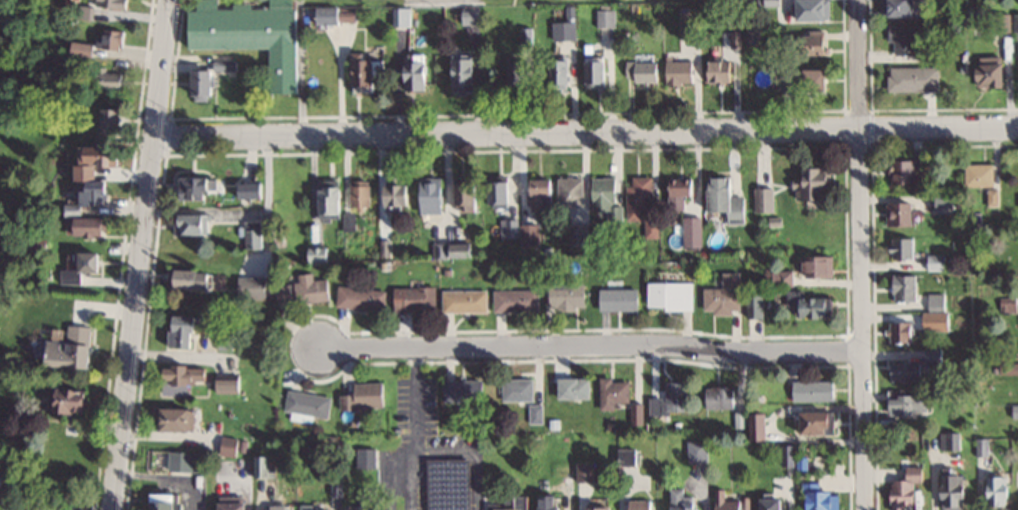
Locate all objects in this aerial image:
building: (1017, 2)
building: (118, 3)
building: (899, 8)
building: (809, 9)
building: (474, 15)
building: (998, 22)
building: (1014, 22)
building: (255, 35)
park: (304, 37)
building: (903, 38)
building: (105, 41)
building: (809, 42)
building: (928, 54)
building: (679, 69)
building: (715, 70)
building: (419, 71)
building: (639, 71)
building: (467, 72)
building: (559, 72)
building: (983, 72)
building: (367, 73)
building: (596, 74)
building: (518, 75)
building: (210, 78)
building: (787, 78)
building: (911, 78)
building: (111, 81)
building: (112, 125)
road: (584, 132)
building: (98, 161)
building: (900, 172)
building: (977, 174)
building: (806, 183)
building: (676, 186)
building: (198, 188)
building: (253, 189)
building: (362, 193)
building: (98, 194)
building: (432, 194)
building: (502, 194)
building: (557, 195)
building: (398, 196)
building: (468, 196)
building: (603, 198)
building: (637, 198)
building: (722, 199)
building: (761, 199)
building: (335, 201)
building: (895, 214)
building: (196, 223)
building: (95, 225)
building: (508, 228)
building: (690, 233)
building: (252, 246)
building: (899, 248)
building: (457, 250)
road: (139, 254)
building: (318, 254)
road: (860, 254)
building: (82, 264)
building: (813, 266)
building: (193, 278)
building: (780, 278)
building: (251, 287)
building: (902, 287)
building: (306, 289)
building: (569, 291)
building: (667, 295)
building: (721, 295)
building: (363, 298)
building: (618, 298)
building: (418, 299)
building: (467, 300)
building: (518, 300)
building: (804, 304)
building: (752, 306)
building: (933, 313)
building: (185, 330)
building: (898, 332)
road: (590, 345)
building: (74, 348)
building: (910, 366)
building: (184, 378)
building: (230, 383)
building: (518, 388)
building: (575, 388)
building: (466, 390)
building: (810, 391)
building: (615, 392)
building: (366, 396)
building: (723, 397)
building: (676, 398)
building: (71, 400)
building: (307, 404)
building: (903, 404)
building: (181, 419)
building: (807, 423)
building: (745, 424)
building: (947, 440)
building: (231, 446)
building: (696, 451)
building: (786, 456)
building: (367, 457)
building: (181, 460)
building: (266, 466)
building: (586, 472)
building: (451, 484)
building: (901, 487)
building: (947, 492)
building: (992, 492)
building: (812, 497)
building: (169, 499)
building: (682, 500)
building: (727, 502)
building: (551, 503)
building: (236, 504)
building: (644, 504)
building: (280, 507)
building: (1016, 507)
building: (596, 508)

